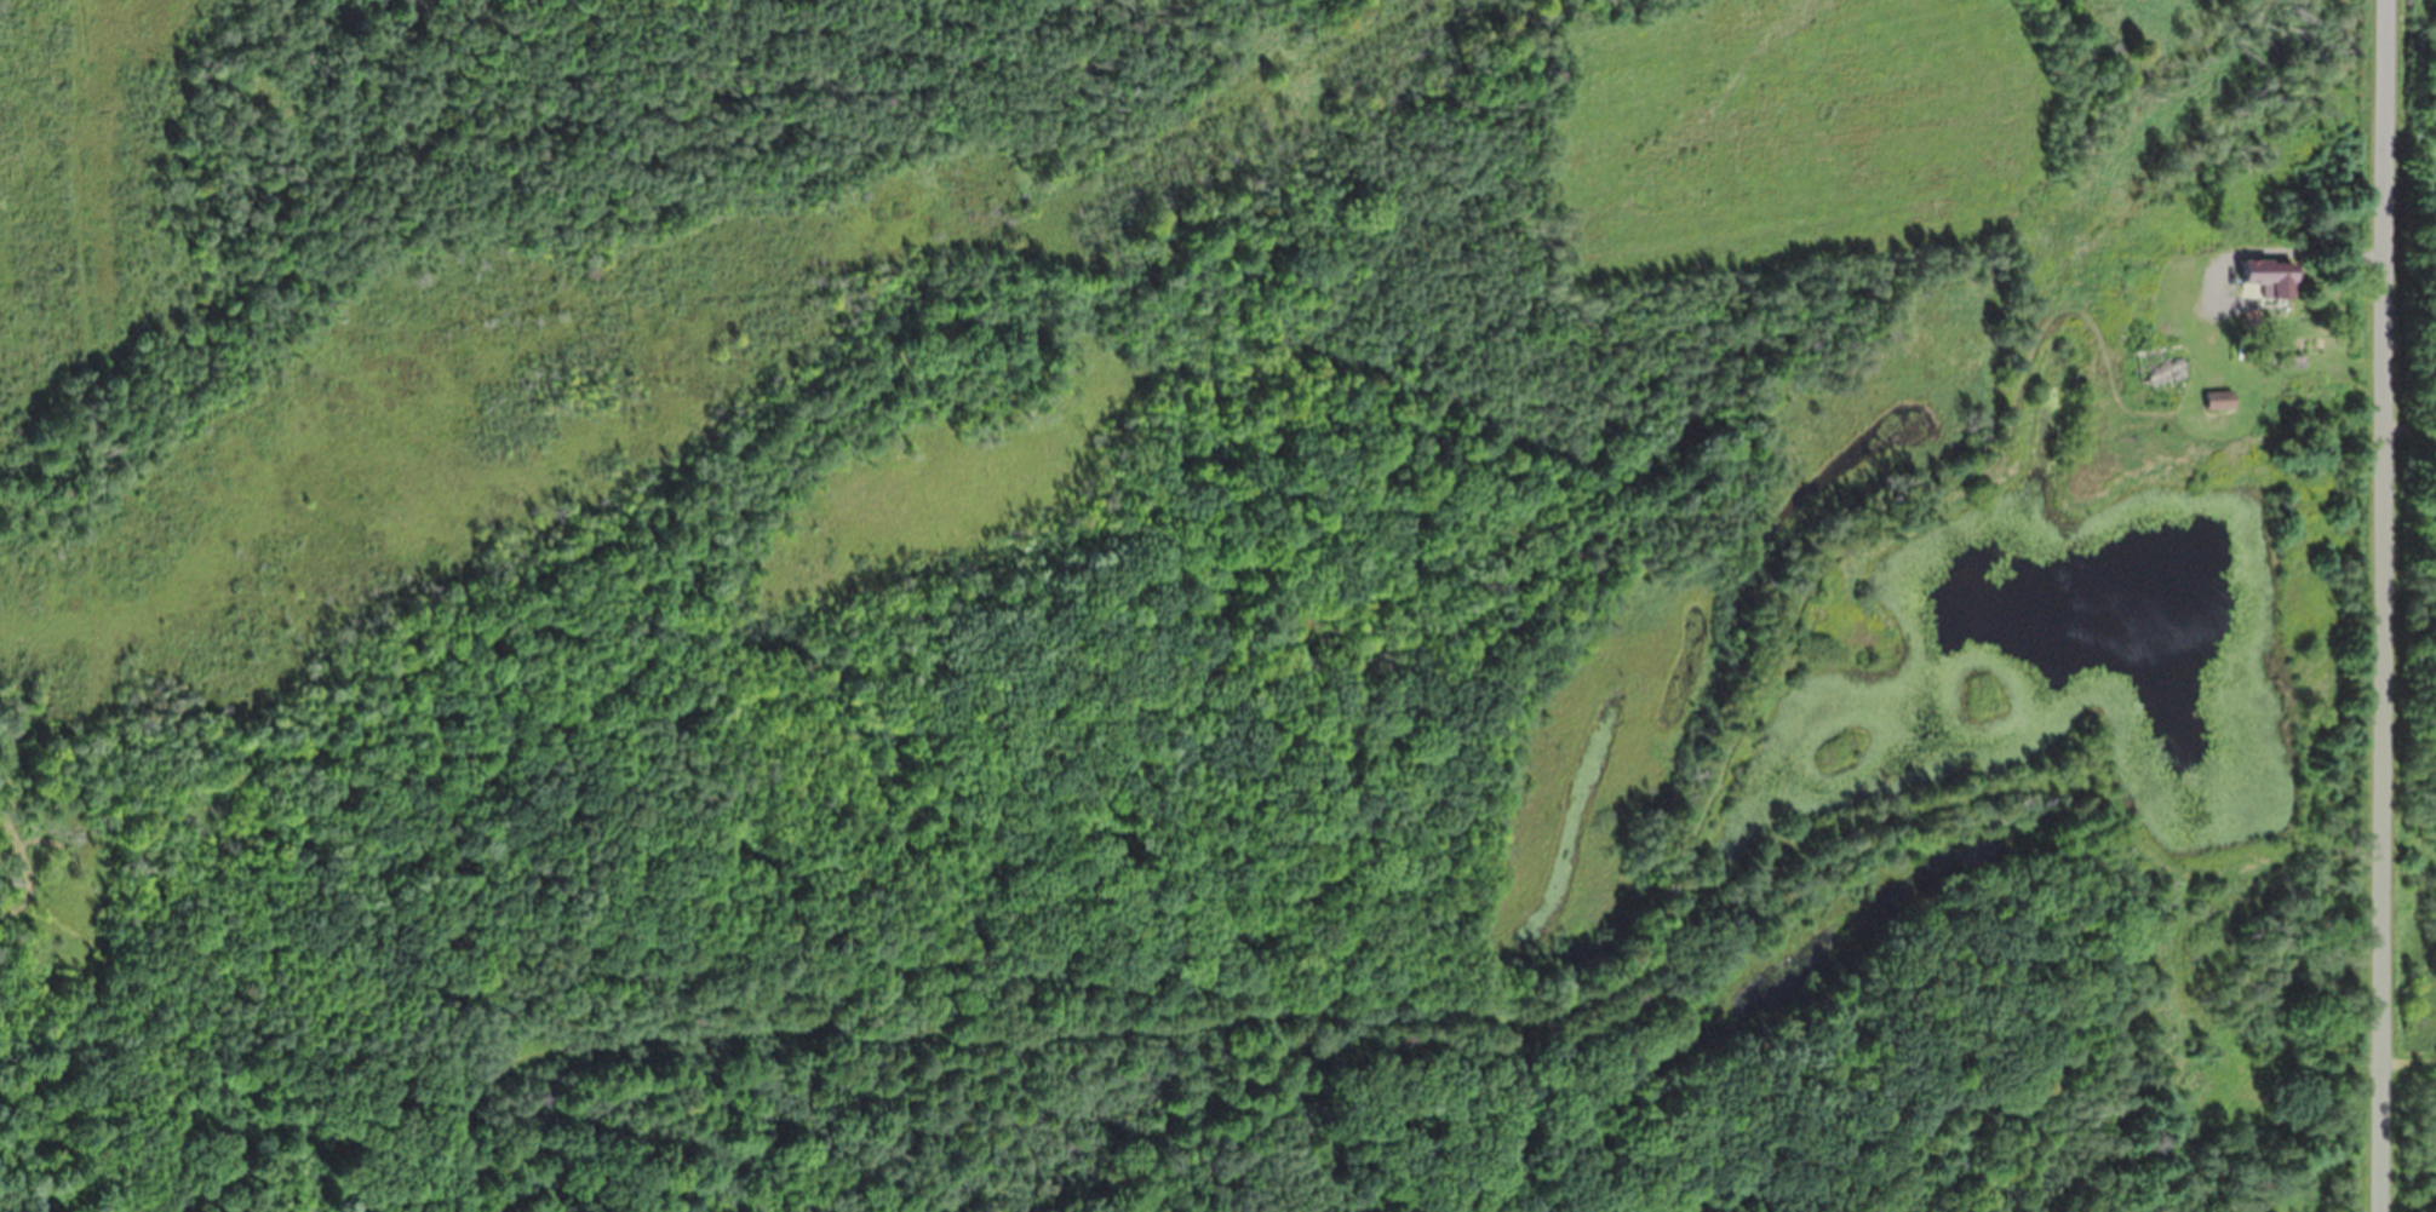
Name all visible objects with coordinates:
building: (2268, 276)
building: (2291, 360)
building: (2165, 369)
building: (2219, 398)
road: (2380, 605)

